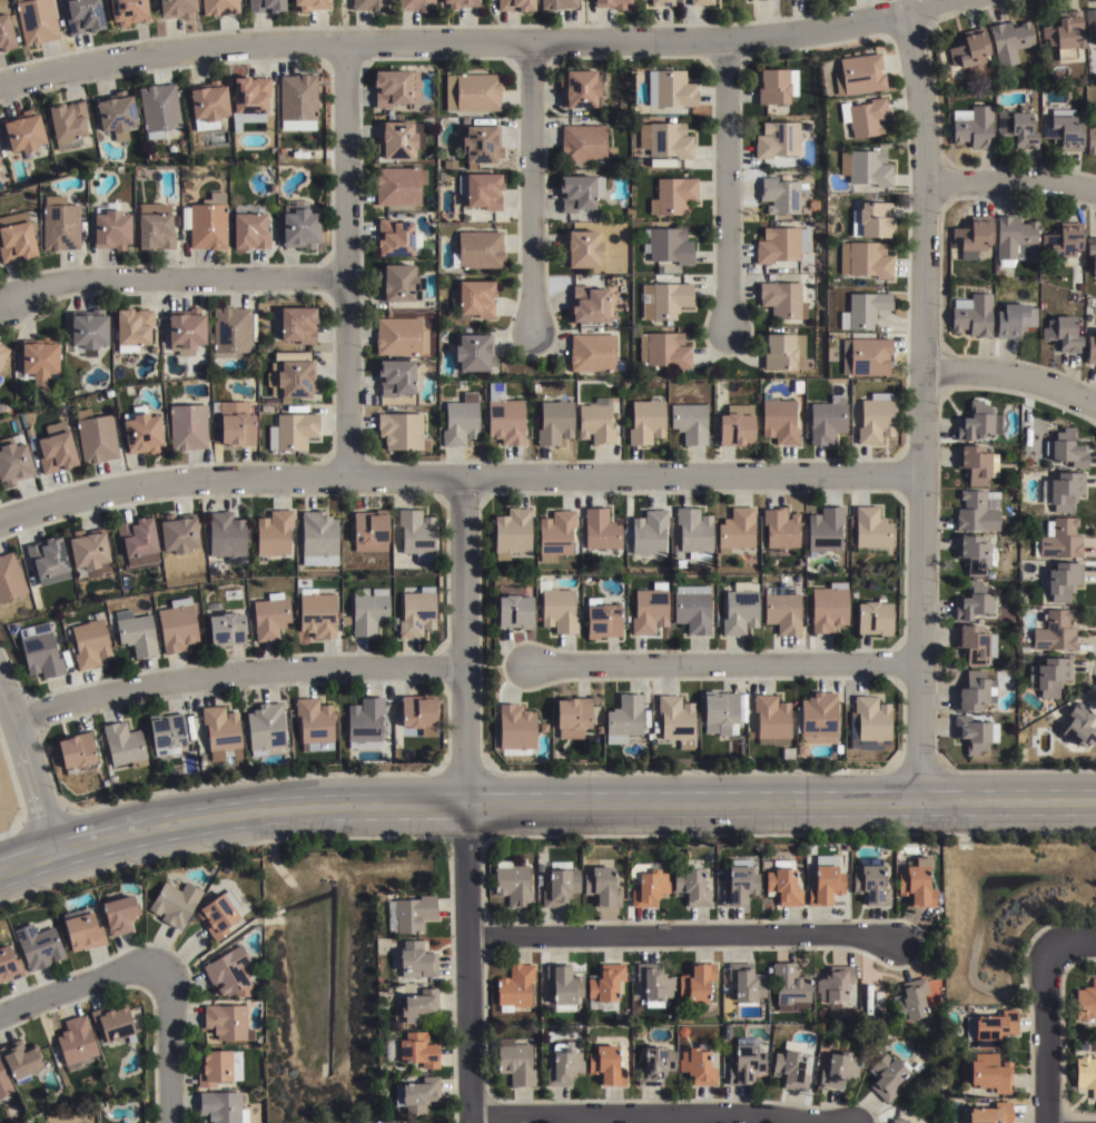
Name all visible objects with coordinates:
building: (762, 0)
building: (313, 3)
building: (662, 3)
building: (701, 3)
building: (264, 4)
building: (457, 4)
building: (612, 4)
building: (219, 6)
building: (368, 6)
building: (559, 6)
building: (176, 7)
building: (415, 7)
building: (515, 7)
building: (128, 10)
building: (85, 14)
building: (1092, 18)
building: (37, 19)
building: (7, 29)
building: (1064, 33)
building: (1009, 39)
road: (475, 41)
building: (969, 47)
building: (858, 72)
building: (793, 81)
building: (771, 82)
building: (394, 85)
building: (579, 85)
building: (672, 86)
building: (250, 90)
building: (472, 90)
building: (209, 99)
building: (297, 100)
building: (159, 107)
building: (116, 112)
building: (865, 116)
building: (66, 121)
building: (972, 125)
building: (1016, 126)
building: (24, 129)
building: (1064, 129)
building: (398, 137)
building: (776, 137)
building: (665, 138)
building: (481, 139)
building: (1090, 139)
building: (585, 144)
building: (661, 160)
building: (866, 166)
building: (0, 167)
road: (1011, 181)
building: (397, 183)
building: (186, 184)
road: (727, 184)
building: (480, 187)
road: (529, 187)
building: (579, 189)
building: (674, 193)
building: (779, 195)
building: (813, 204)
building: (465, 216)
building: (873, 216)
building: (206, 220)
building: (60, 221)
building: (298, 225)
building: (111, 226)
building: (249, 228)
building: (155, 229)
building: (394, 235)
building: (971, 236)
building: (1014, 238)
building: (17, 239)
building: (803, 239)
building: (1062, 239)
building: (777, 243)
building: (667, 244)
building: (582, 246)
building: (477, 248)
building: (1092, 249)
building: (865, 258)
road: (345, 260)
road: (172, 280)
building: (396, 280)
building: (1078, 285)
building: (474, 295)
building: (669, 298)
building: (781, 298)
building: (589, 303)
building: (861, 308)
building: (971, 313)
building: (1014, 318)
building: (298, 322)
building: (134, 325)
building: (87, 329)
building: (231, 329)
building: (185, 332)
building: (1064, 332)
building: (398, 335)
building: (1092, 347)
building: (663, 348)
building: (473, 349)
building: (782, 349)
building: (592, 352)
building: (2, 353)
building: (866, 355)
building: (38, 359)
building: (394, 375)
road: (1011, 375)
building: (292, 377)
road: (922, 401)
building: (503, 415)
building: (460, 418)
building: (778, 418)
building: (827, 418)
building: (875, 420)
building: (977, 420)
building: (554, 421)
building: (596, 421)
building: (645, 421)
building: (690, 421)
building: (187, 425)
building: (733, 426)
building: (237, 427)
building: (401, 430)
building: (293, 431)
building: (141, 432)
building: (97, 436)
building: (1066, 447)
building: (55, 451)
building: (12, 461)
building: (976, 462)
road: (457, 477)
building: (1063, 490)
building: (977, 511)
building: (870, 528)
building: (601, 529)
building: (825, 529)
building: (737, 530)
building: (779, 530)
building: (371, 531)
building: (274, 532)
building: (511, 532)
building: (649, 532)
building: (694, 532)
building: (318, 533)
building: (417, 533)
building: (178, 534)
building: (555, 534)
building: (226, 536)
building: (1058, 539)
building: (138, 540)
building: (975, 552)
building: (88, 553)
building: (48, 560)
building: (10, 577)
building: (1063, 580)
building: (972, 603)
building: (556, 607)
building: (828, 607)
building: (692, 608)
building: (740, 609)
building: (781, 609)
building: (368, 610)
building: (649, 610)
building: (514, 611)
building: (417, 612)
building: (317, 613)
building: (270, 615)
building: (873, 618)
building: (345, 620)
building: (602, 620)
building: (176, 624)
building: (224, 627)
building: (135, 632)
building: (1055, 632)
building: (88, 642)
building: (975, 643)
building: (38, 650)
road: (724, 662)
road: (236, 670)
building: (1049, 676)
building: (974, 691)
building: (421, 712)
building: (721, 713)
building: (572, 717)
building: (818, 718)
building: (624, 719)
building: (772, 719)
building: (675, 720)
building: (365, 723)
building: (868, 723)
building: (314, 725)
building: (515, 727)
building: (266, 729)
building: (1077, 731)
building: (221, 732)
building: (972, 732)
building: (167, 733)
building: (124, 745)
building: (76, 750)
building: (788, 753)
road: (28, 765)
road: (543, 799)
road: (464, 800)
building: (870, 883)
building: (917, 883)
building: (512, 884)
building: (559, 885)
building: (646, 885)
building: (740, 886)
building: (826, 886)
building: (601, 887)
building: (783, 887)
building: (691, 888)
building: (174, 904)
building: (118, 913)
building: (411, 914)
building: (218, 915)
building: (81, 930)
road: (680, 934)
road: (1073, 943)
building: (37, 947)
building: (417, 959)
building: (8, 966)
building: (229, 973)
building: (747, 983)
building: (697, 984)
building: (653, 986)
road: (76, 987)
building: (515, 987)
building: (563, 987)
building: (604, 987)
building: (790, 988)
building: (836, 992)
building: (910, 1002)
building: (1086, 1004)
building: (417, 1007)
building: (111, 1022)
building: (227, 1023)
building: (991, 1028)
road: (1044, 1035)
building: (76, 1044)
road: (169, 1044)
building: (413, 1052)
building: (21, 1063)
building: (515, 1063)
building: (746, 1063)
building: (563, 1066)
building: (605, 1066)
building: (218, 1067)
building: (655, 1067)
building: (698, 1067)
building: (790, 1067)
building: (1085, 1068)
building: (839, 1071)
building: (987, 1074)
building: (890, 1076)
building: (3, 1085)
building: (418, 1095)
building: (220, 1107)
road: (649, 1113)
building: (989, 1114)
building: (901, 1120)

